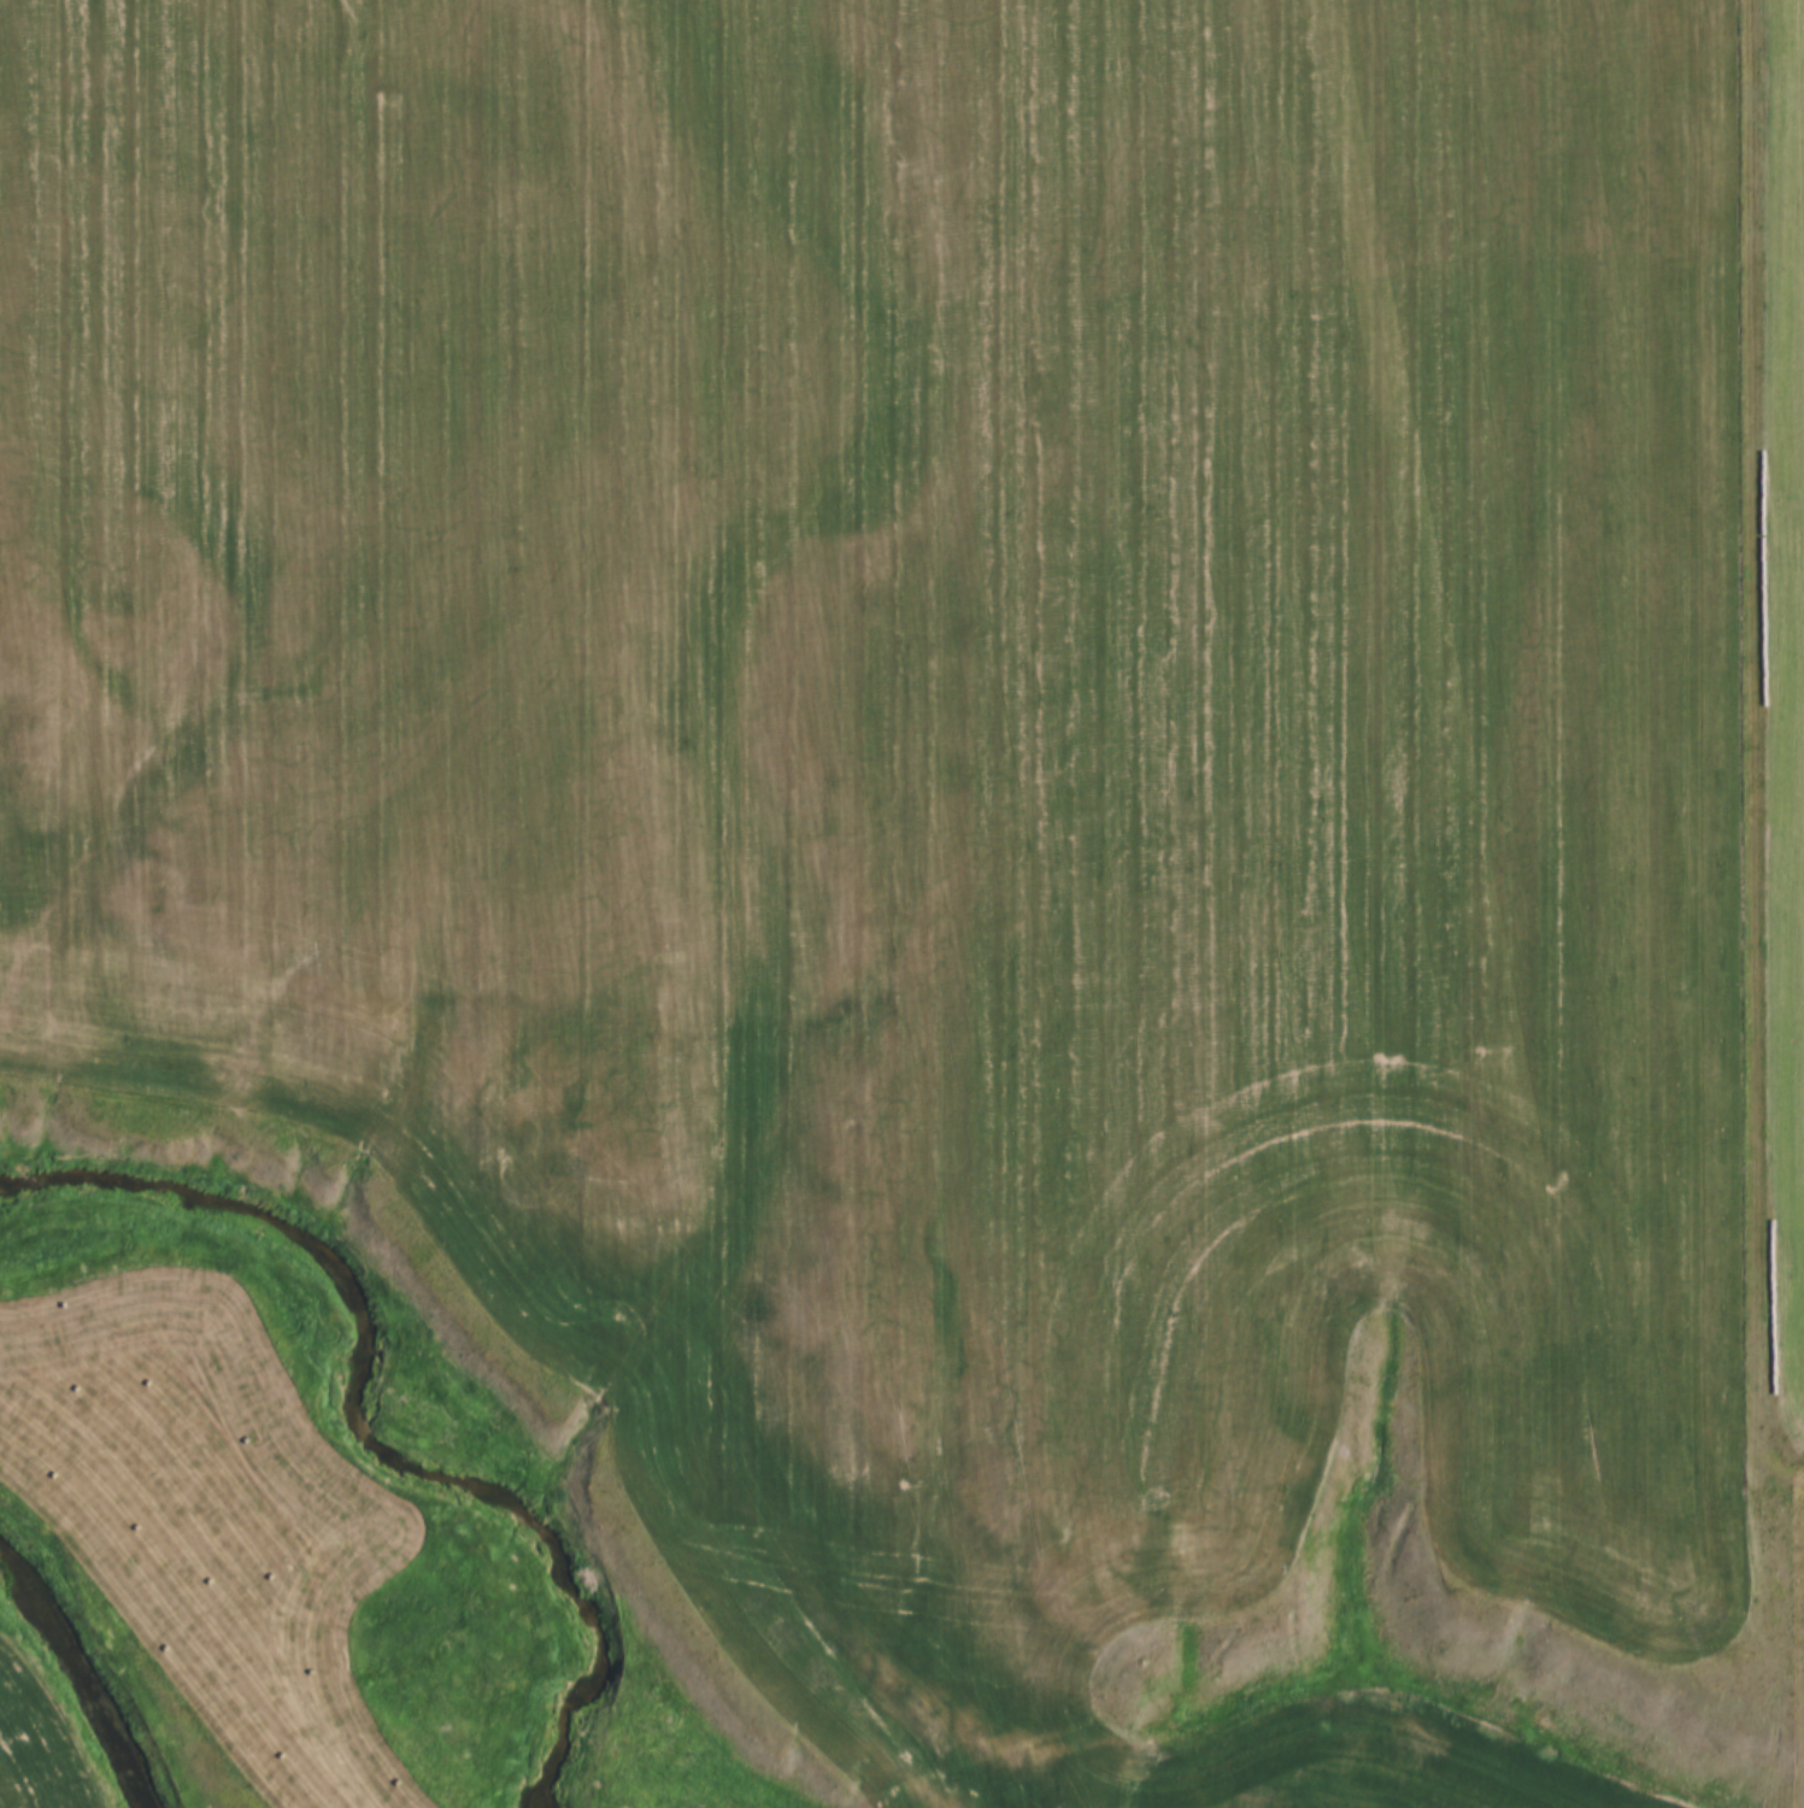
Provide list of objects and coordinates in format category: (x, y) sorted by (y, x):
road: (1763, 732)
road: (1786, 1469)

